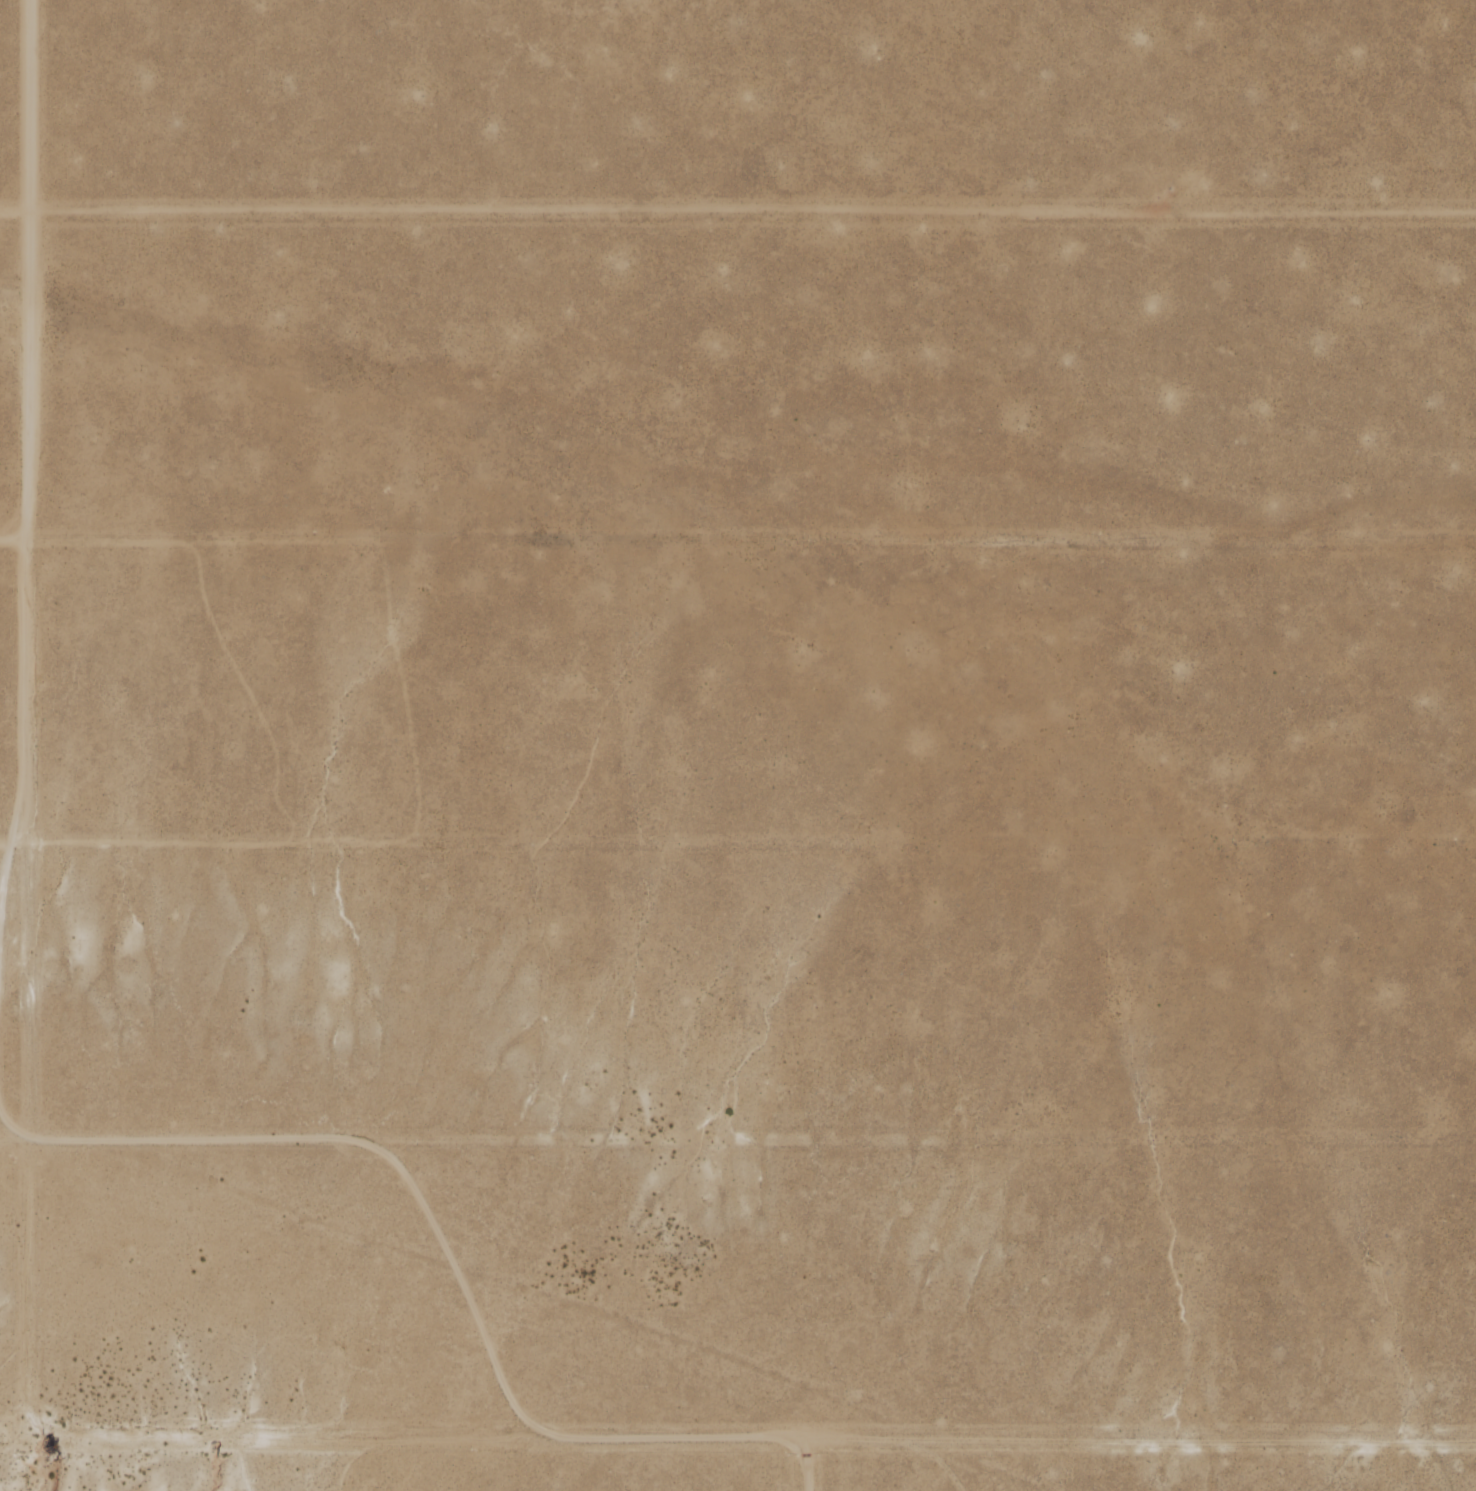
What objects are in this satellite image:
road: (14, 207)
road: (27, 420)
road: (13, 536)
road: (6, 839)
road: (6, 857)
road: (16, 1041)
road: (16, 1135)
road: (861, 1439)
road: (278, 1440)
road: (1196, 1441)
road: (805, 1465)

